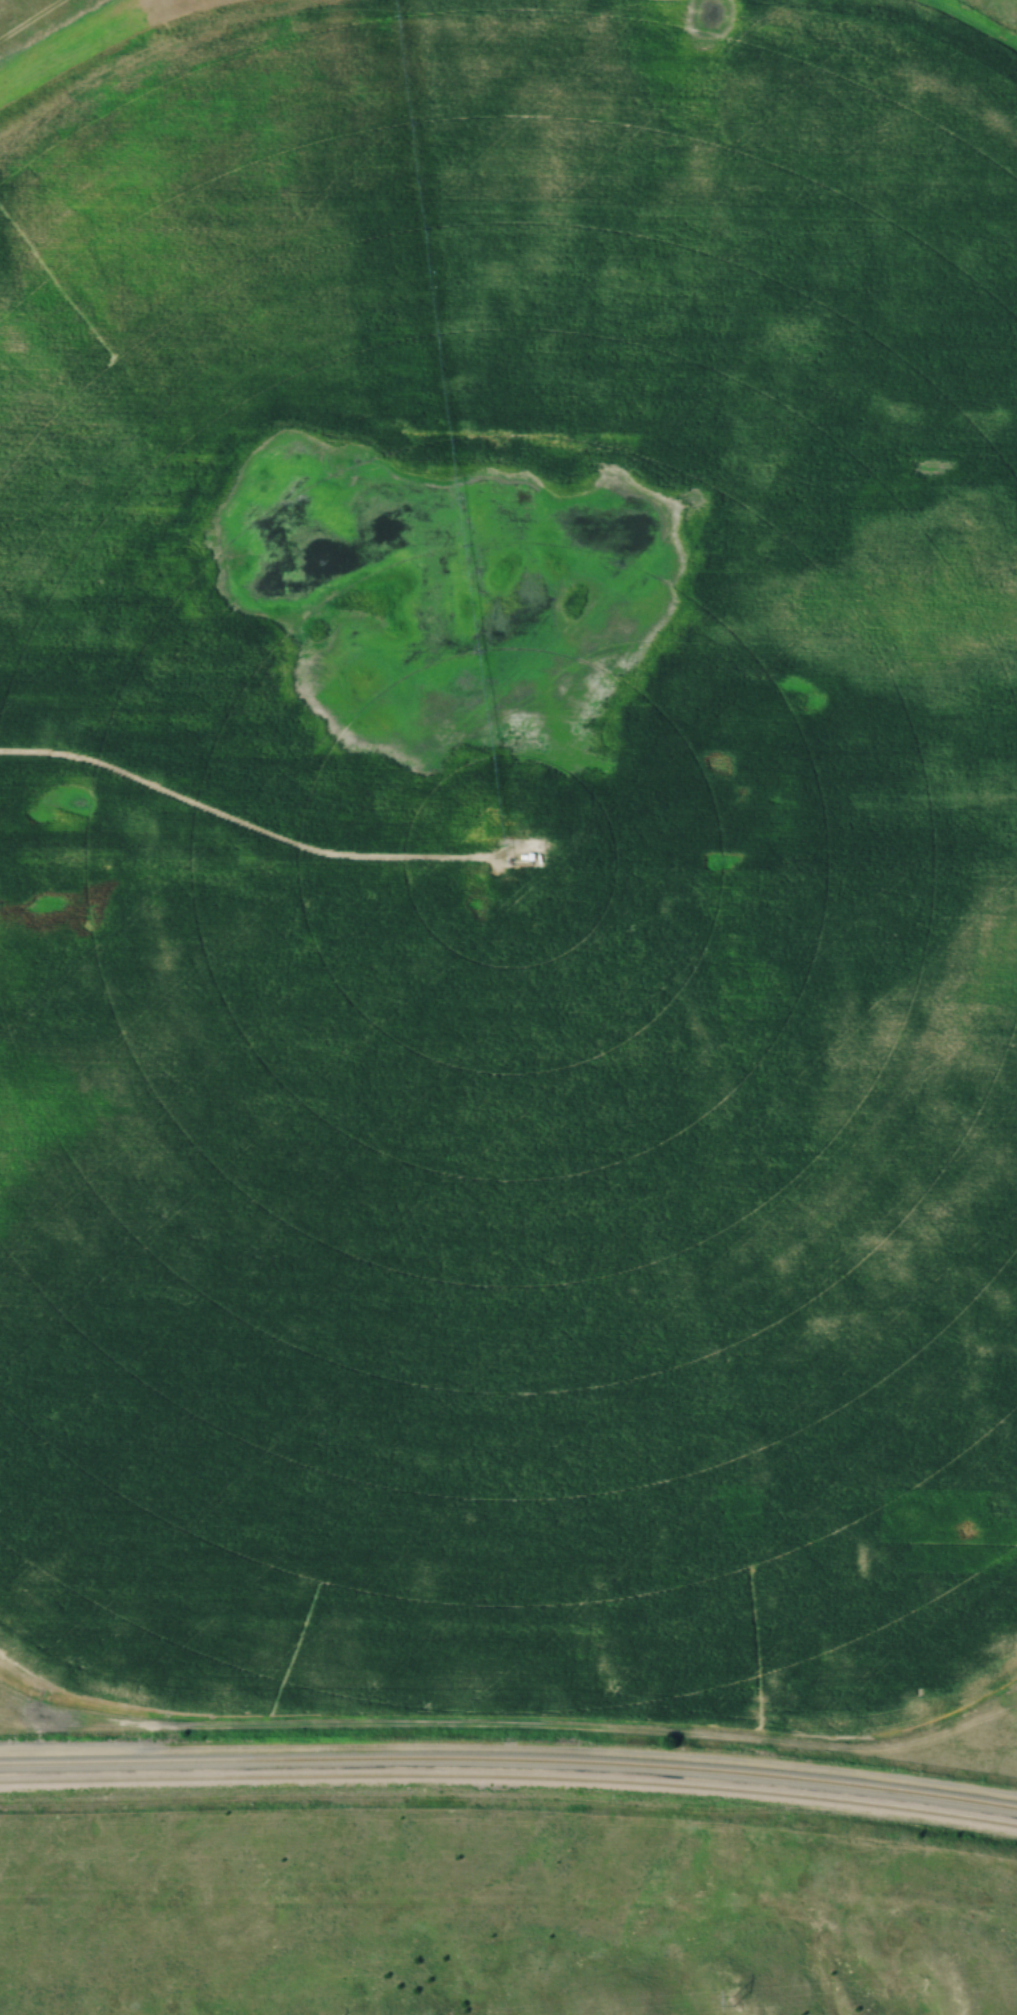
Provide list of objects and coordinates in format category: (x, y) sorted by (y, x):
railway: (509, 1760)
railway: (509, 1778)
power tower: (730, 2000)

